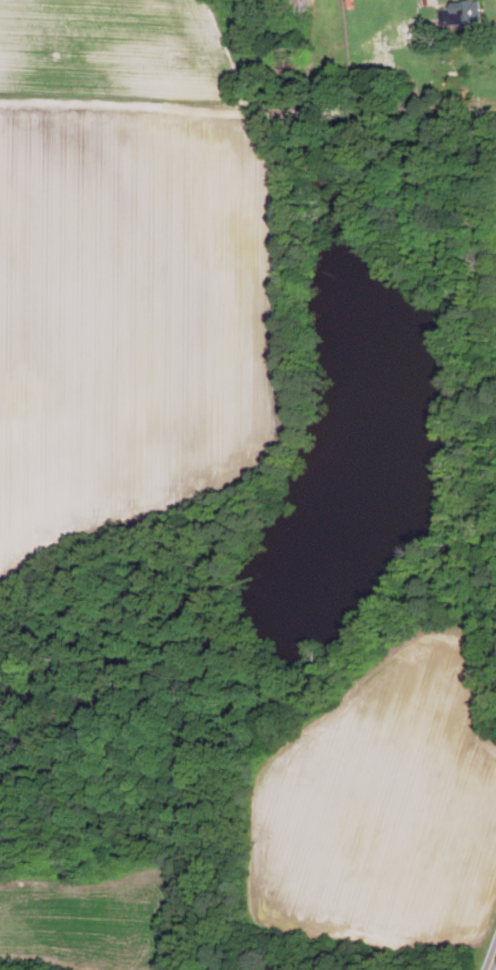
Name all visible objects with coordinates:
building: (463, 13)
road: (493, 961)

